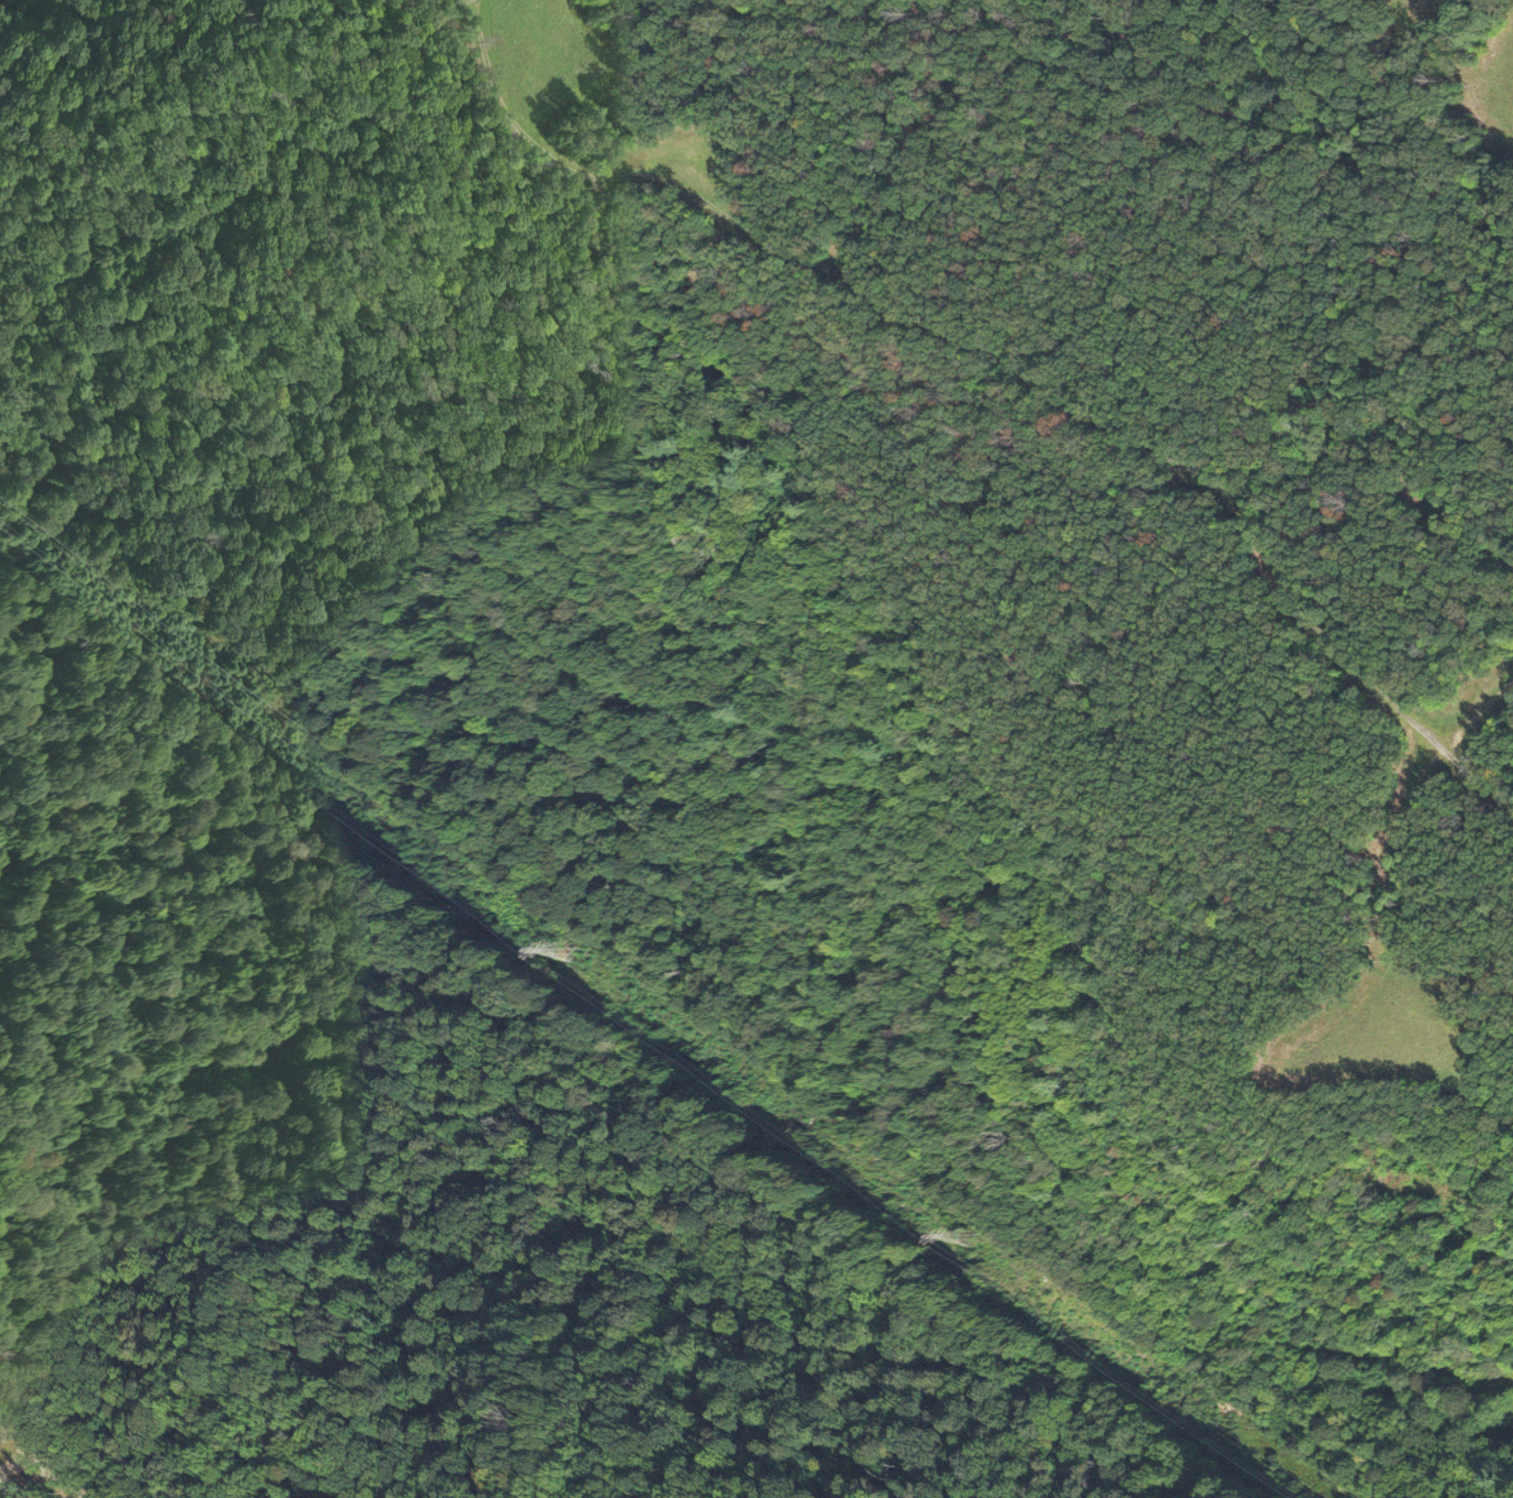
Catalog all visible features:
power tower: (571, 948)
power tower: (972, 1237)
road: (45, 1481)

